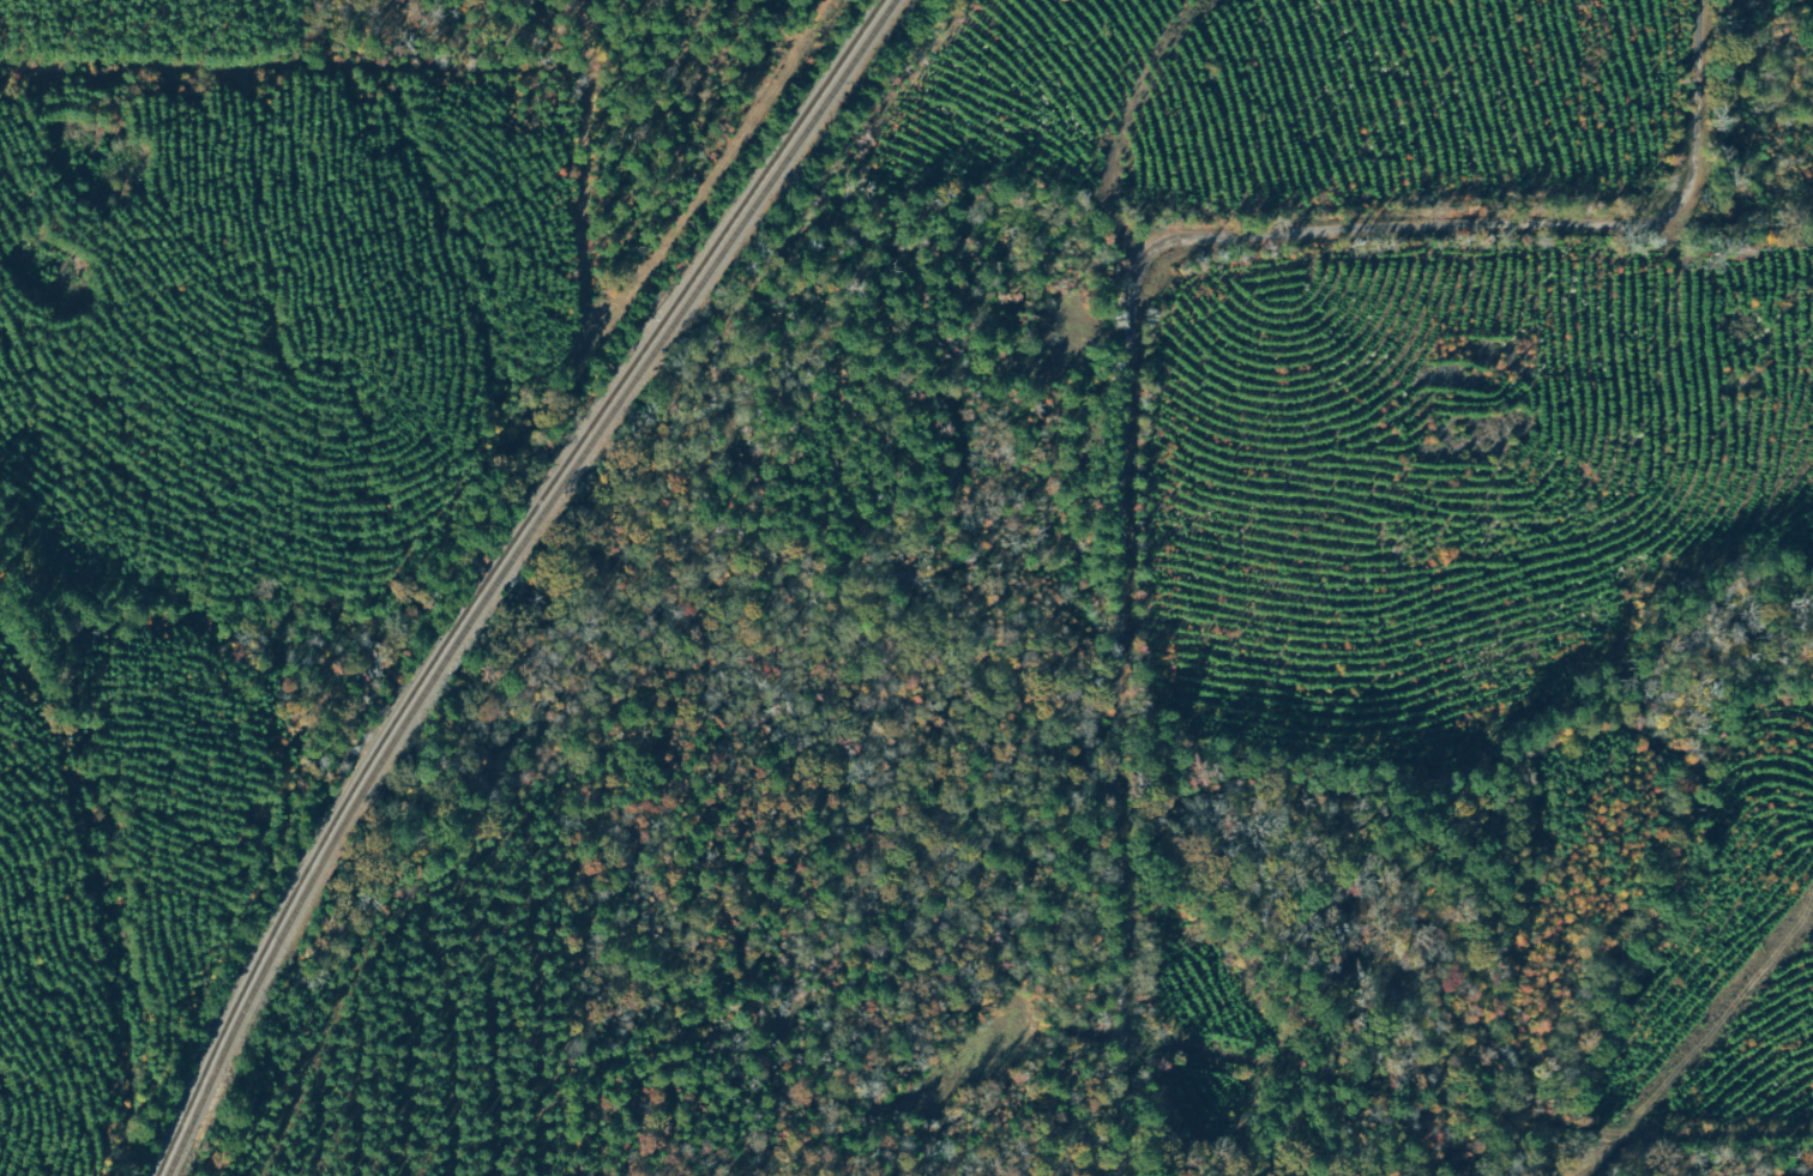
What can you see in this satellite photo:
road: (1062, 354)
railway: (512, 571)
railway: (499, 572)

